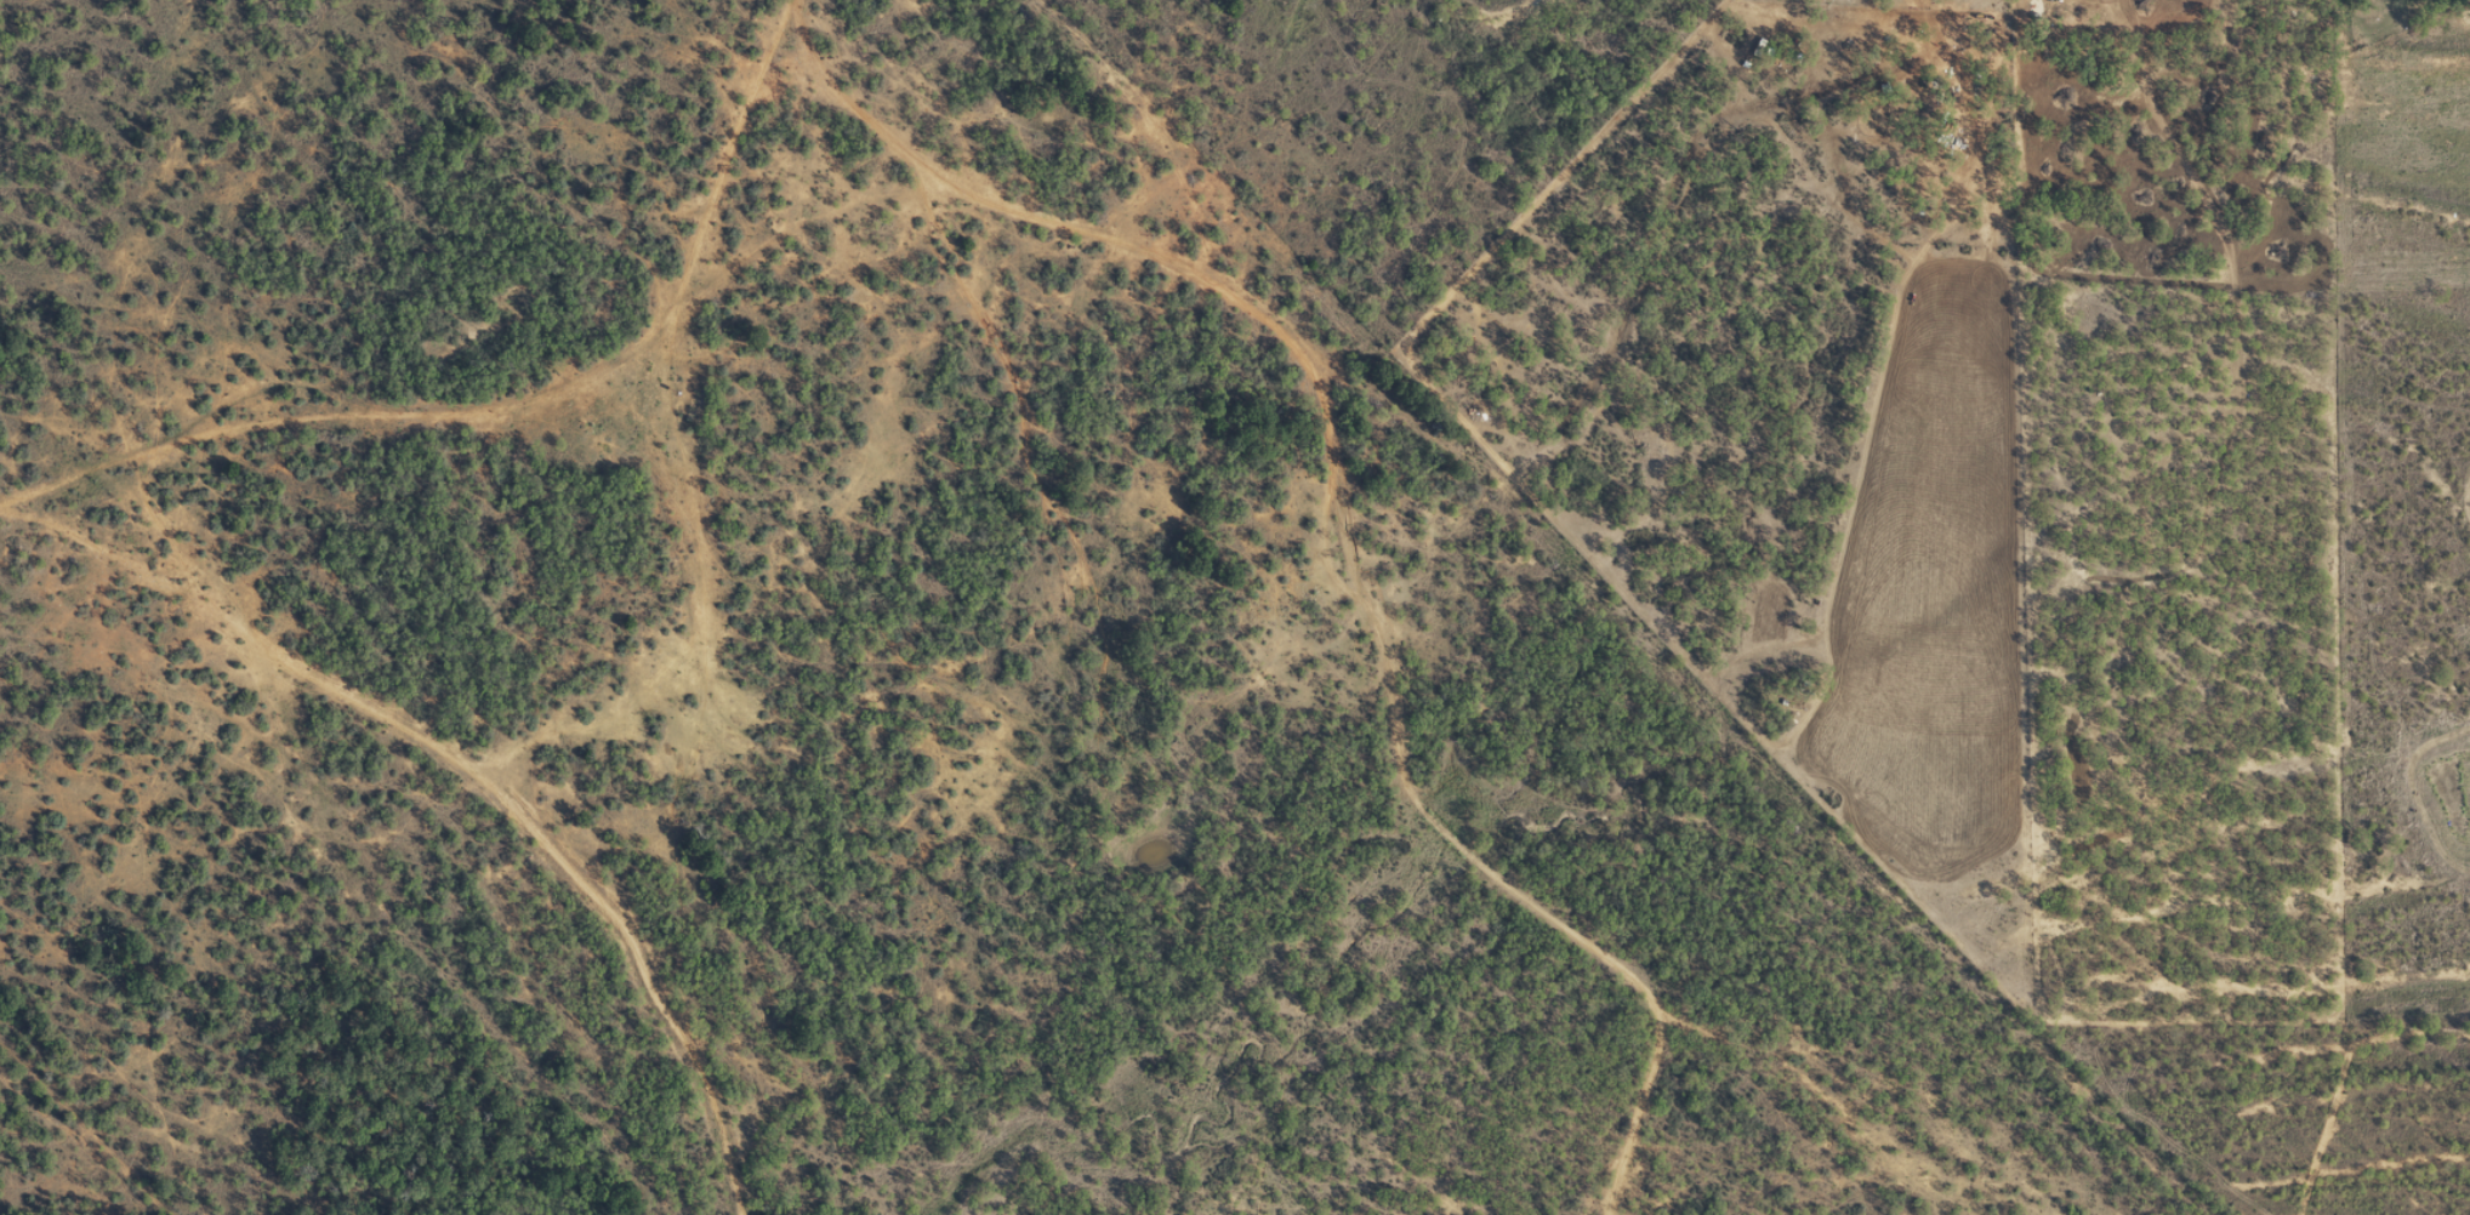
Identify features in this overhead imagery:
road: (850, 109)
road: (627, 355)
road: (1586, 1100)
road: (1819, 1100)

